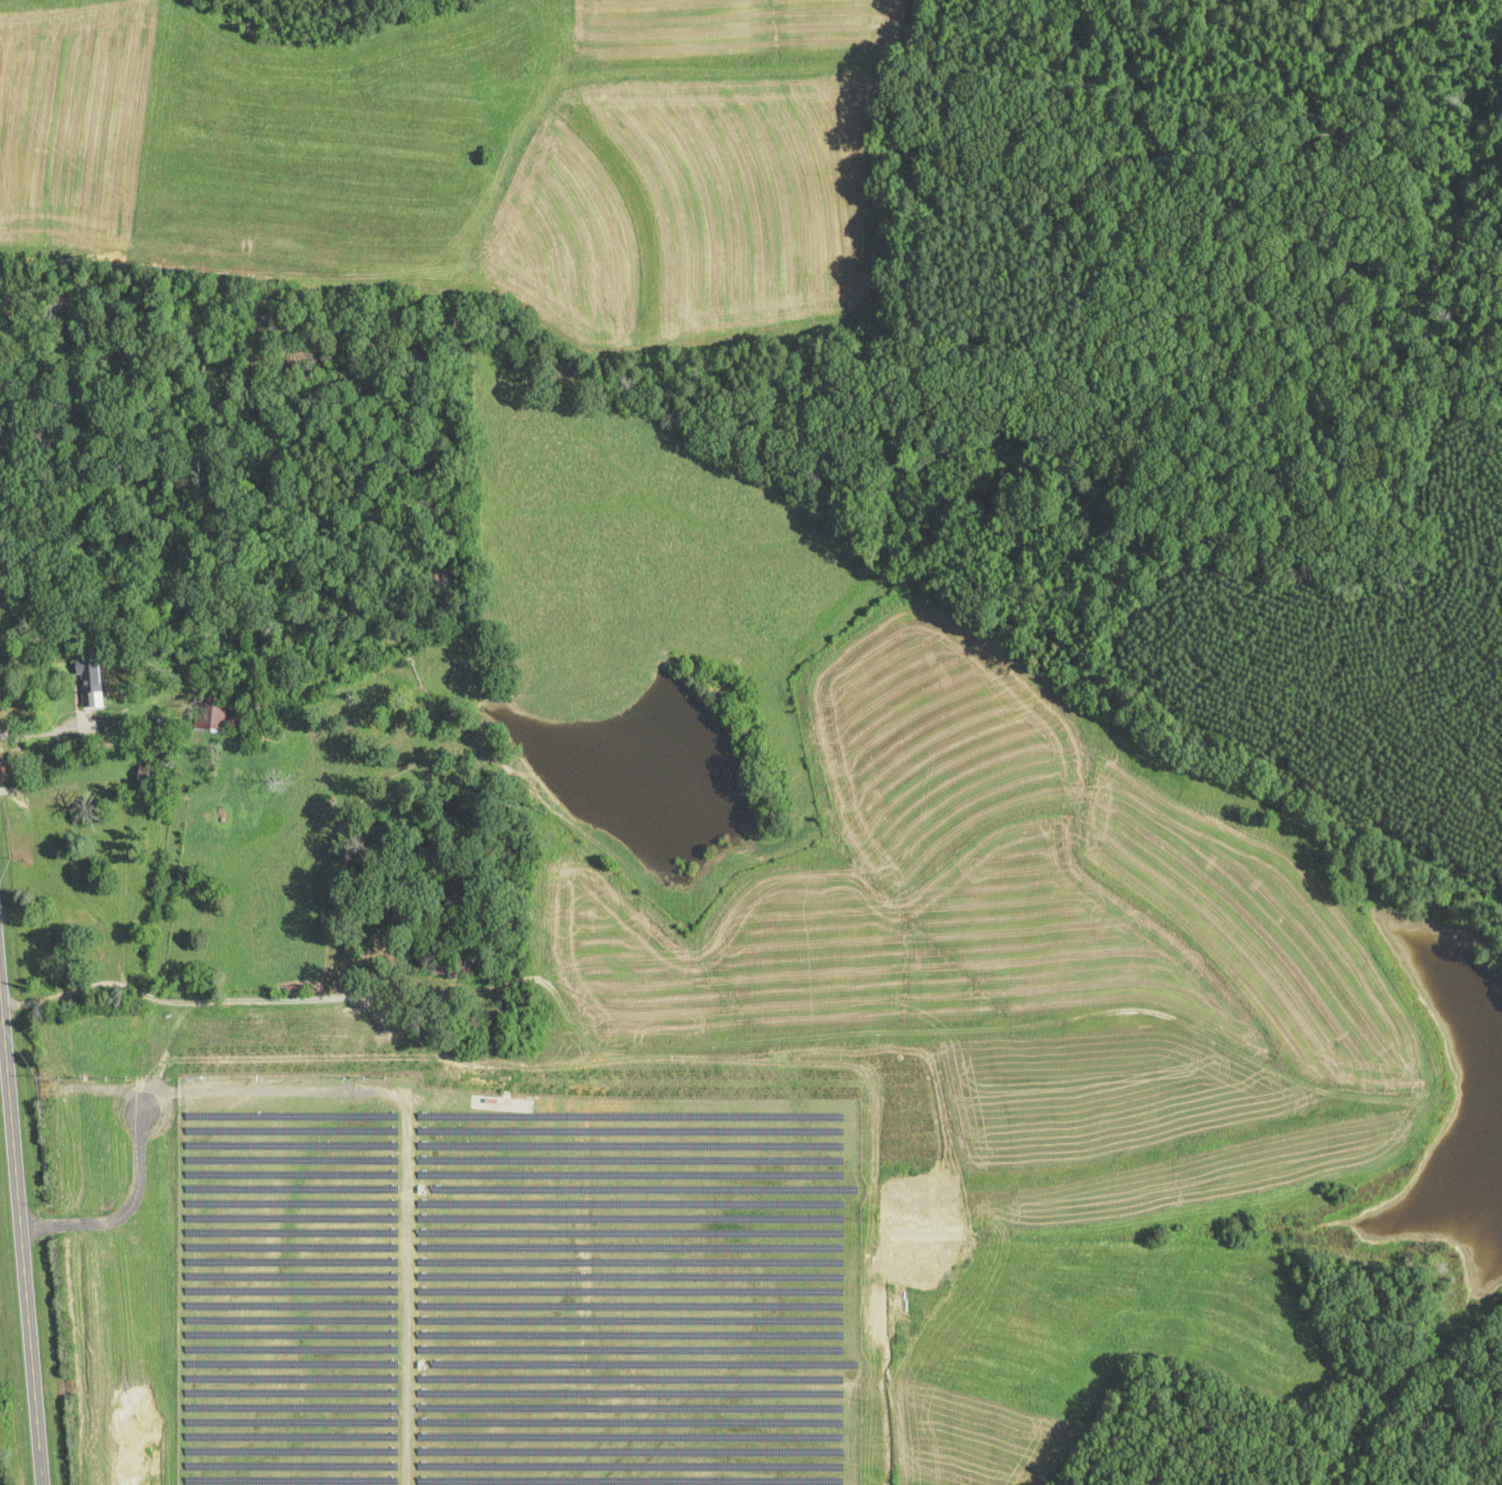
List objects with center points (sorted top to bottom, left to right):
building: (91, 684)
building: (213, 715)
road: (42, 728)
building: (297, 990)
building: (502, 1106)
road: (20, 1253)

